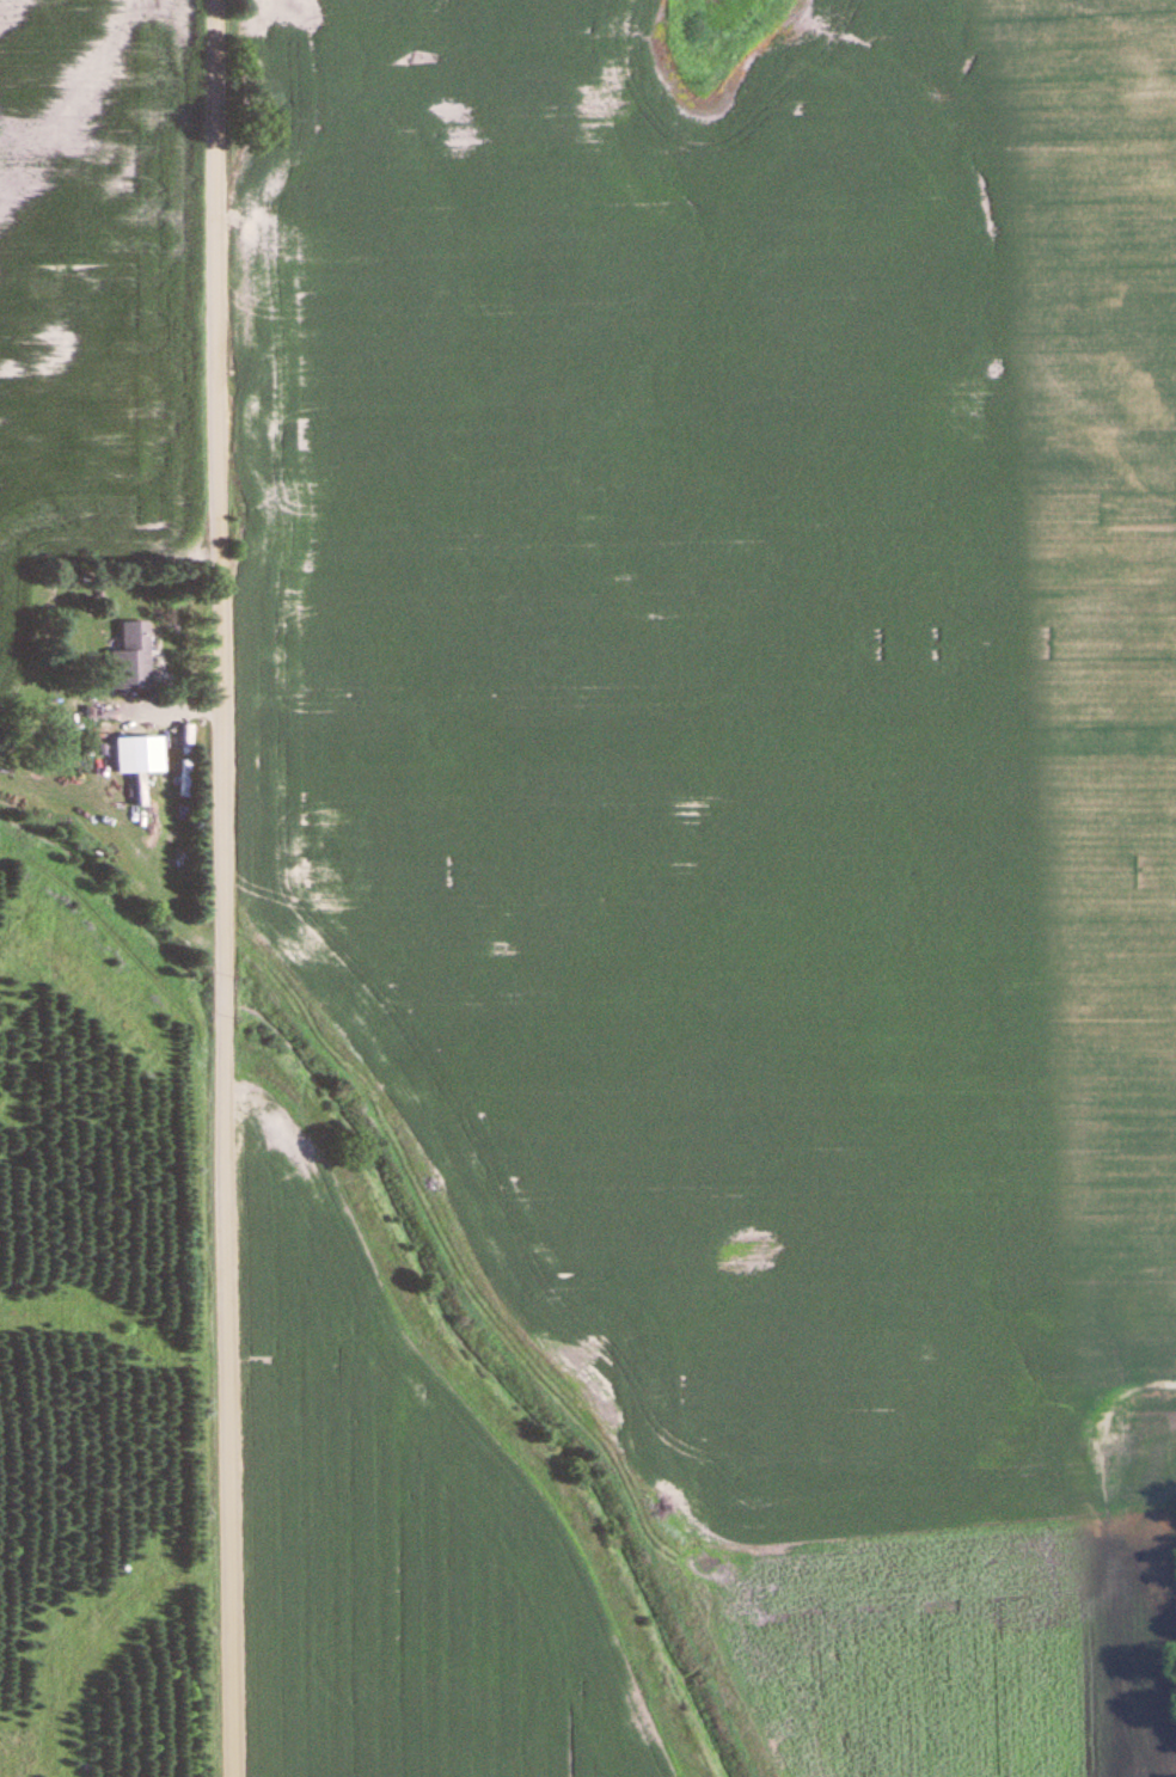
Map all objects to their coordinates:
building: (125, 656)
building: (129, 753)
road: (221, 888)

